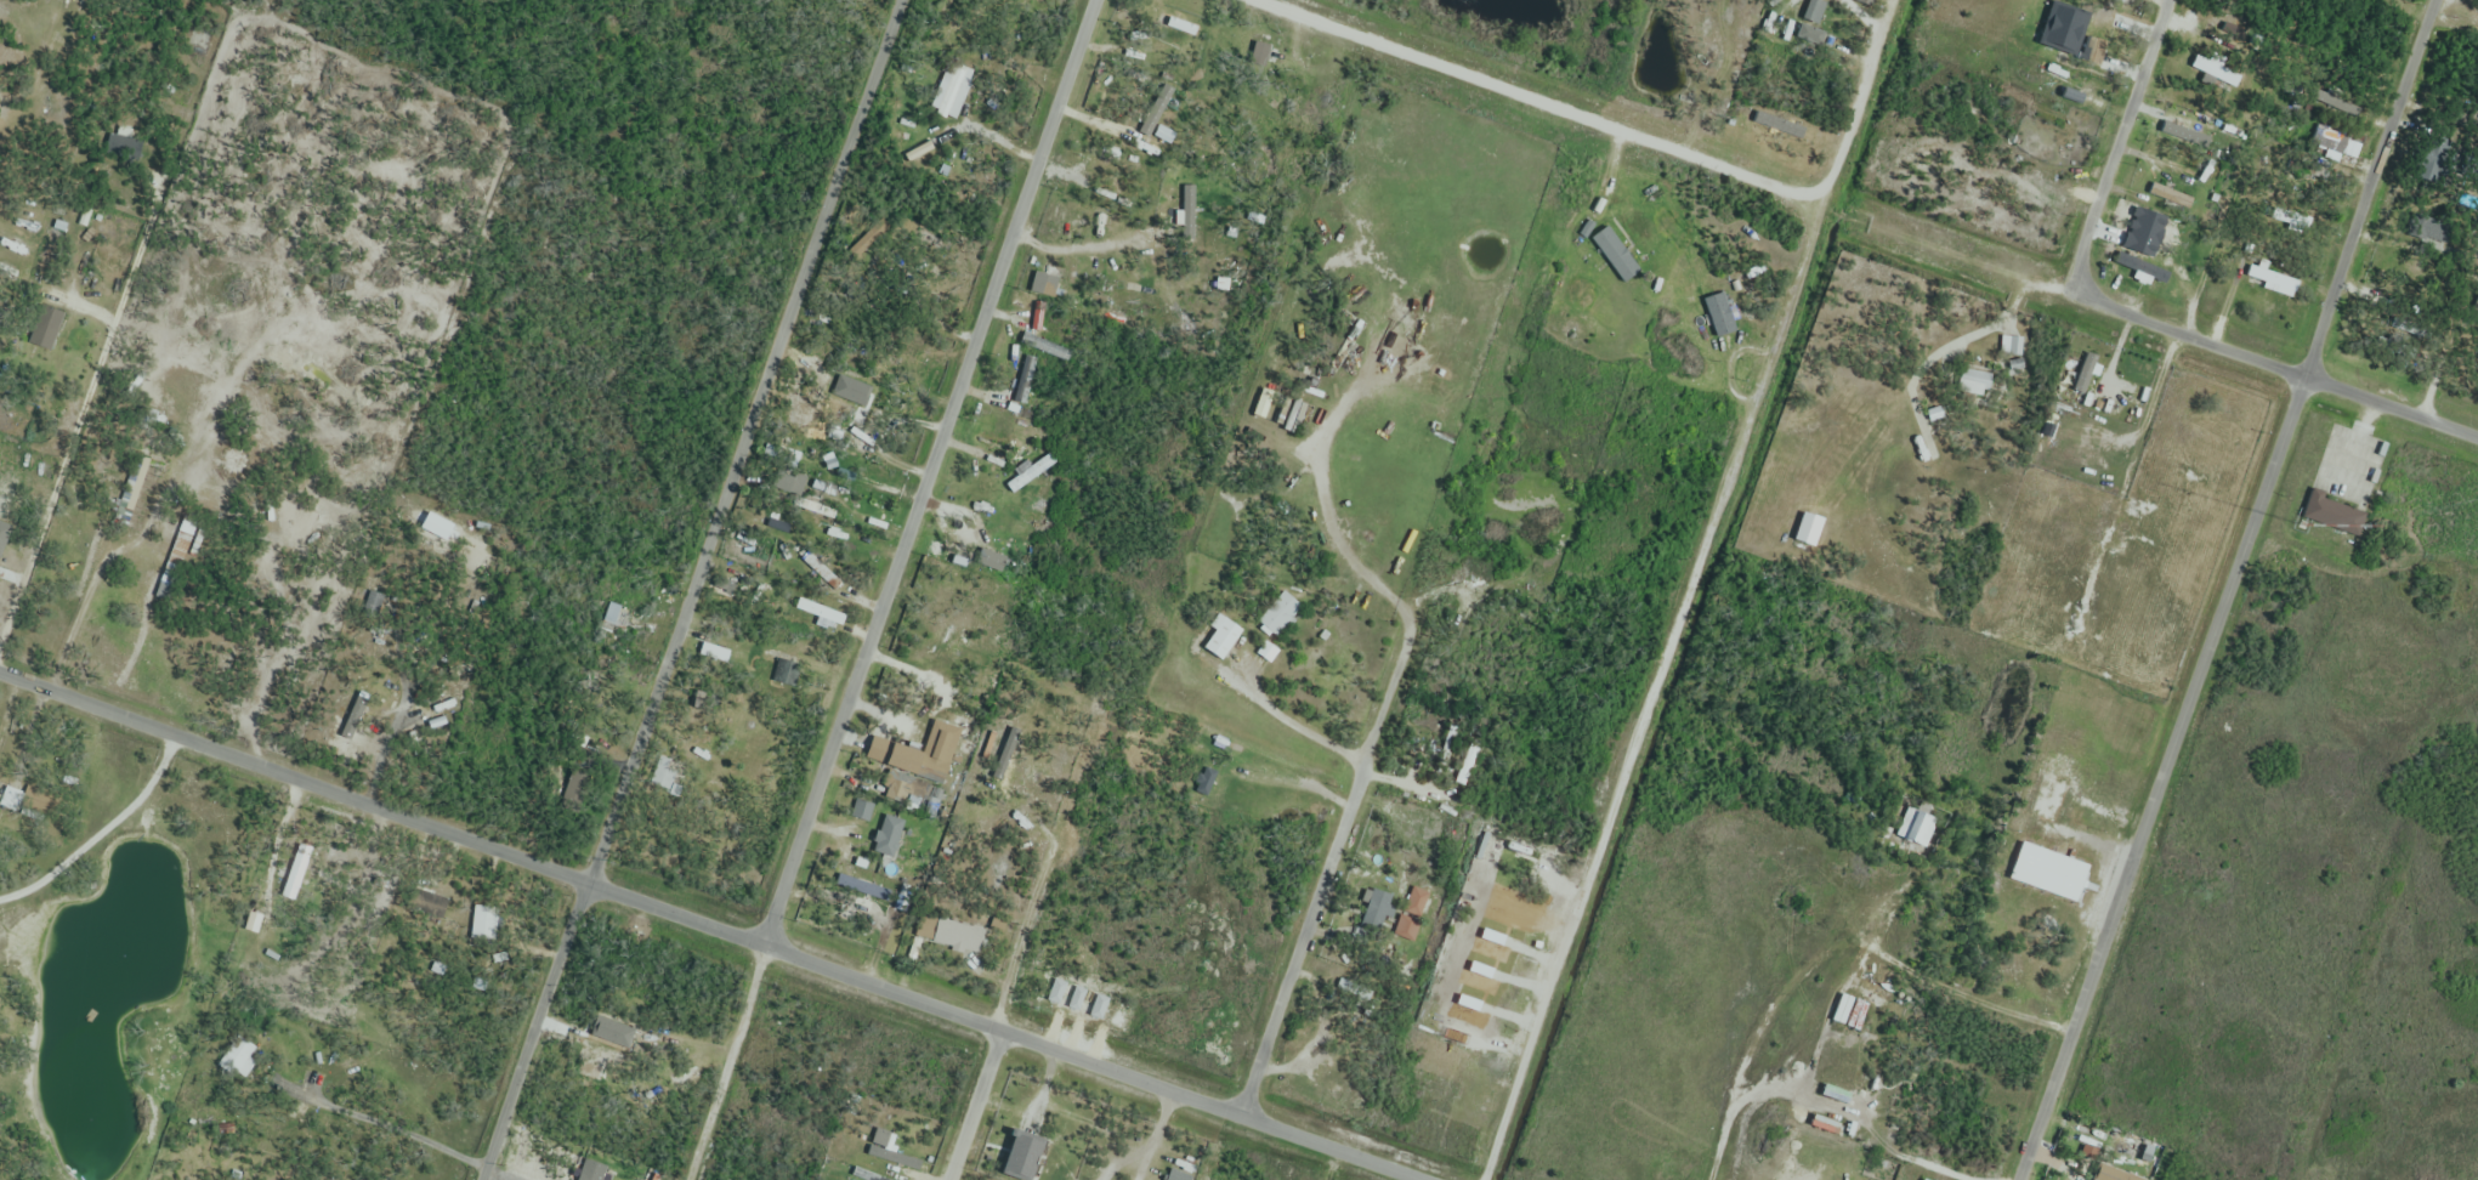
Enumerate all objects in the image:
building: (2094, 49)
building: (1166, 50)
building: (1261, 52)
building: (2216, 70)
building: (953, 91)
road: (1538, 101)
building: (2181, 129)
building: (2331, 135)
road: (2114, 146)
building: (2427, 154)
building: (2468, 155)
building: (2166, 194)
building: (2422, 223)
building: (2155, 237)
building: (1616, 254)
building: (2140, 267)
building: (2272, 279)
building: (1720, 314)
building: (1045, 318)
building: (46, 328)
building: (2012, 346)
building: (1047, 347)
building: (1026, 367)
road: (2273, 369)
building: (1975, 382)
road: (64, 455)
building: (1032, 473)
road: (931, 475)
building: (131, 490)
building: (2327, 511)
building: (820, 568)
building: (1, 585)
road: (691, 589)
road: (1689, 589)
road: (2229, 590)
building: (821, 612)
building: (618, 615)
building: (1278, 617)
building: (1223, 639)
building: (760, 755)
building: (917, 764)
building: (662, 776)
building: (907, 785)
building: (1911, 823)
building: (890, 835)
building: (2043, 870)
road: (1321, 873)
building: (862, 887)
building: (424, 902)
building: (1377, 909)
building: (484, 925)
road: (708, 927)
building: (1407, 927)
building: (946, 932)
building: (1854, 1012)
building: (243, 1056)
road: (973, 1106)
building: (2106, 1173)

